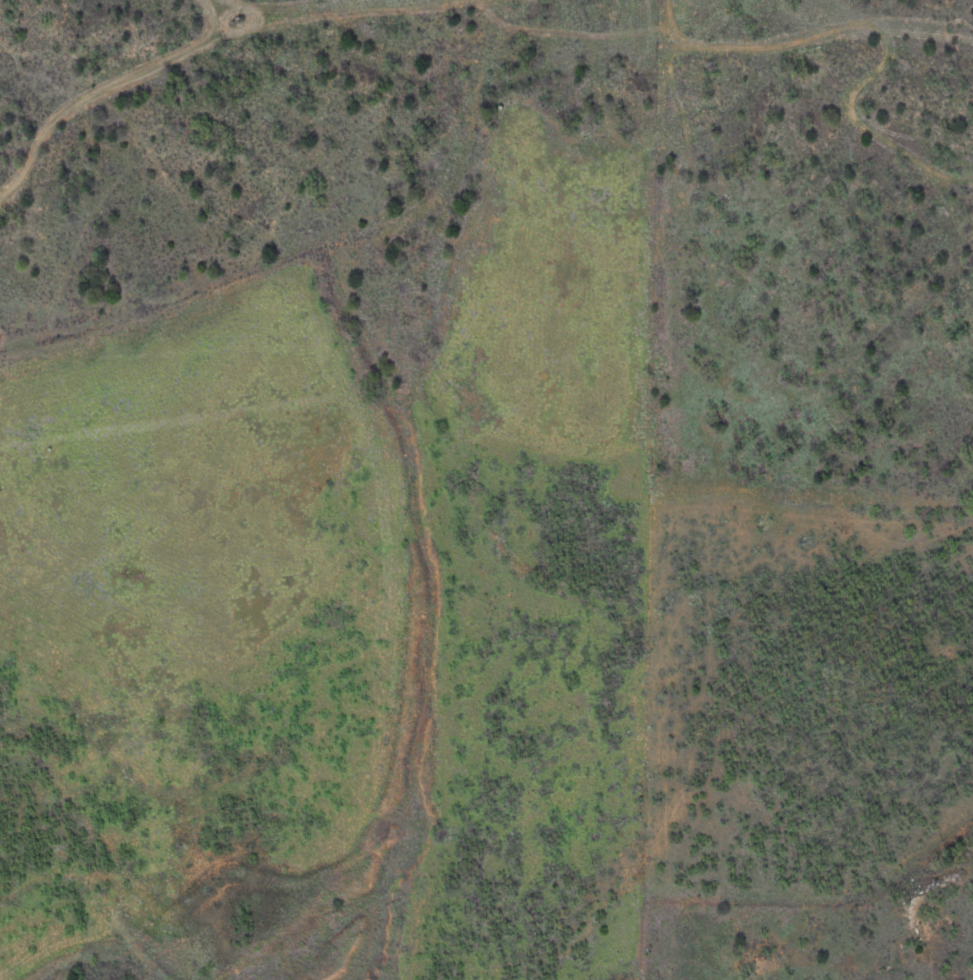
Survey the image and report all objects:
road: (212, 3)
road: (104, 83)

